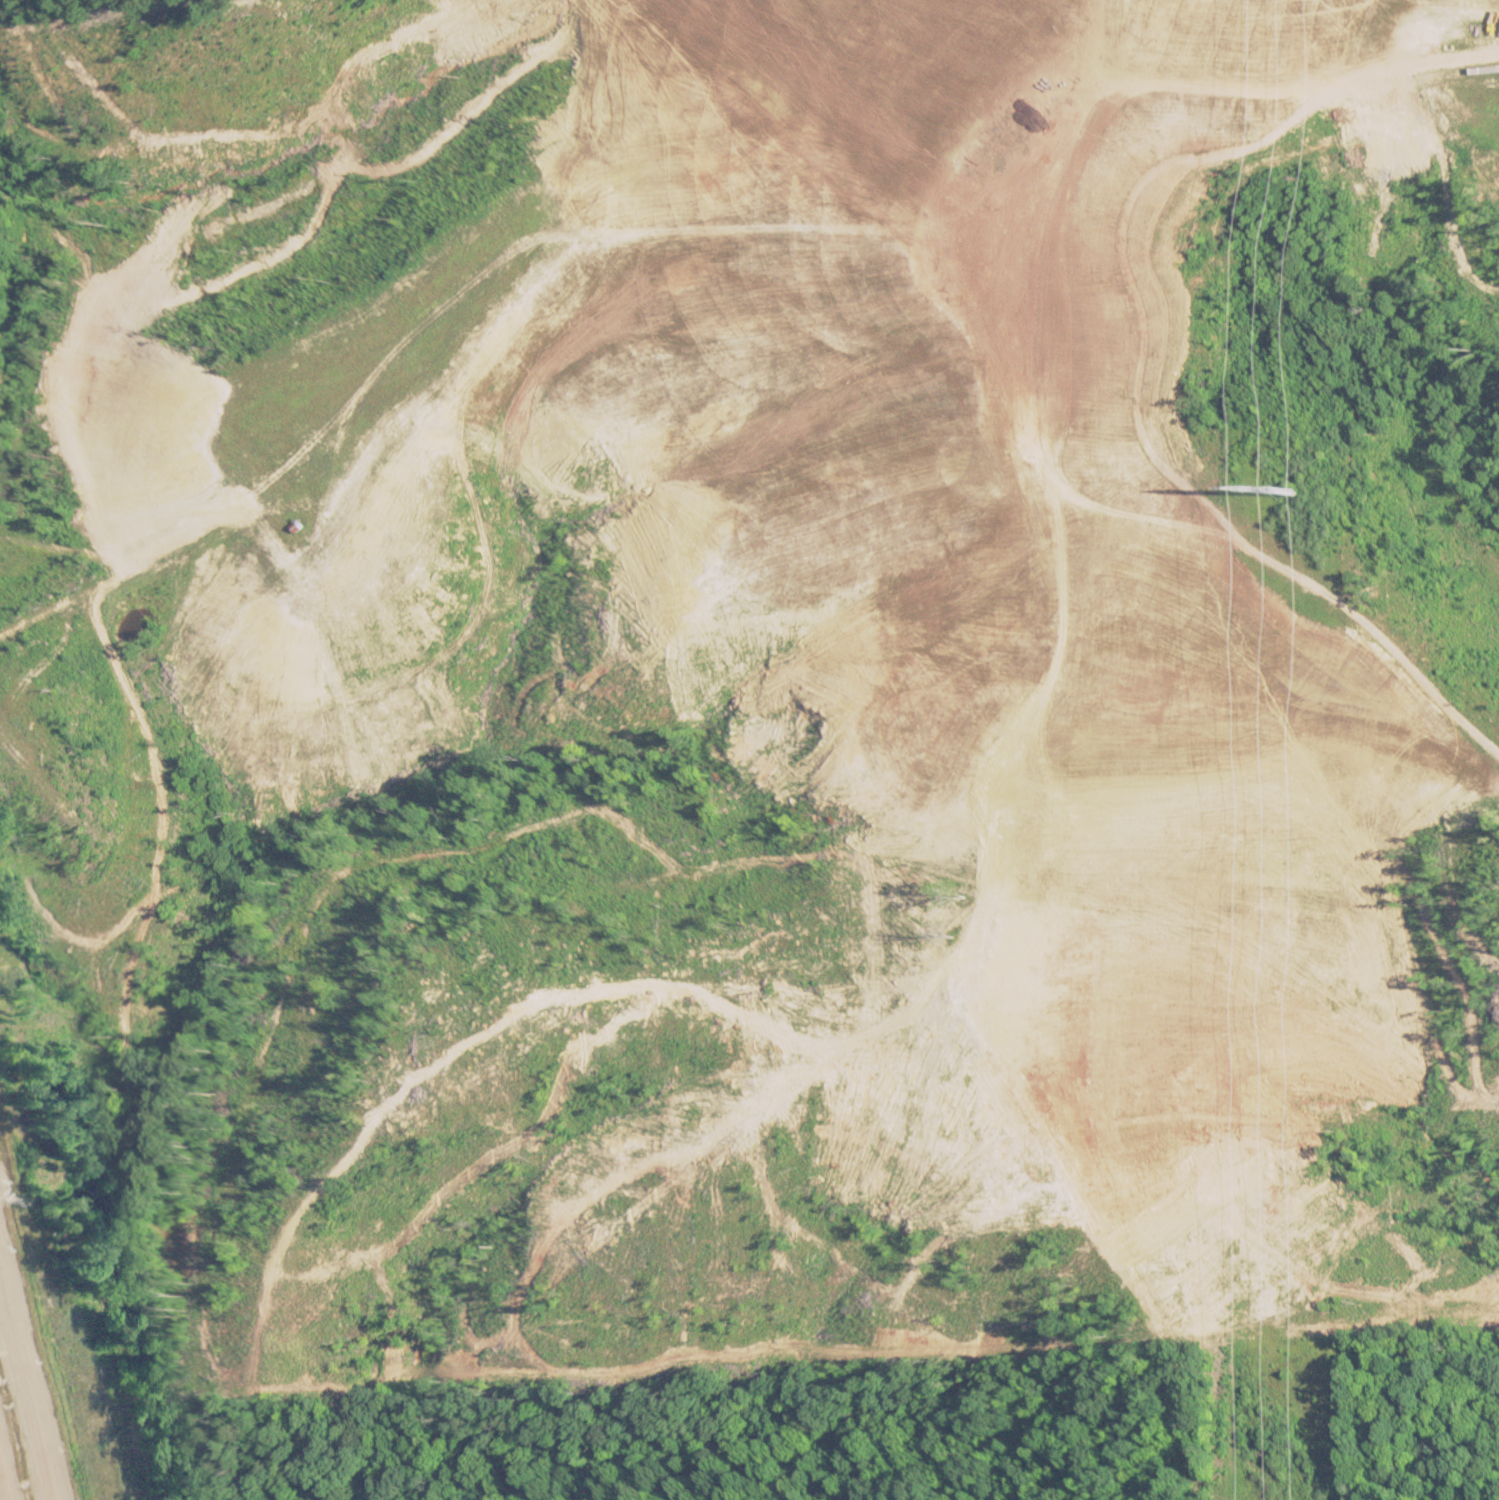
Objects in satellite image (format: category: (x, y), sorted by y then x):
road: (953, 362)
power tower: (1306, 495)
road: (30, 1381)
road: (2, 1489)

